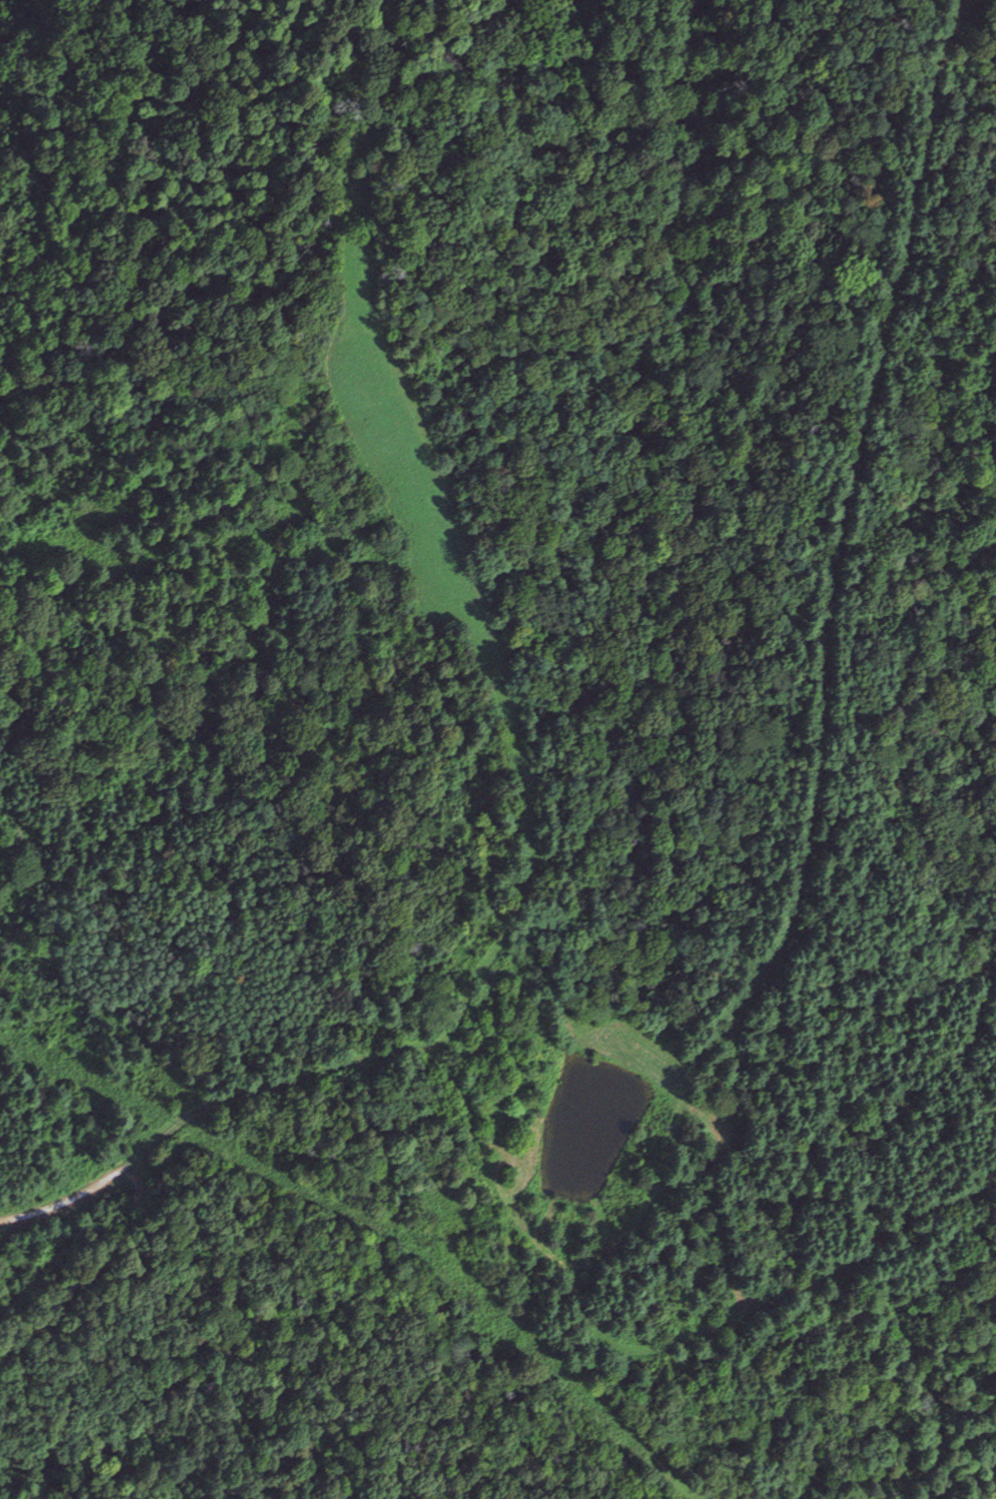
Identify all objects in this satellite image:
road: (111, 1157)

